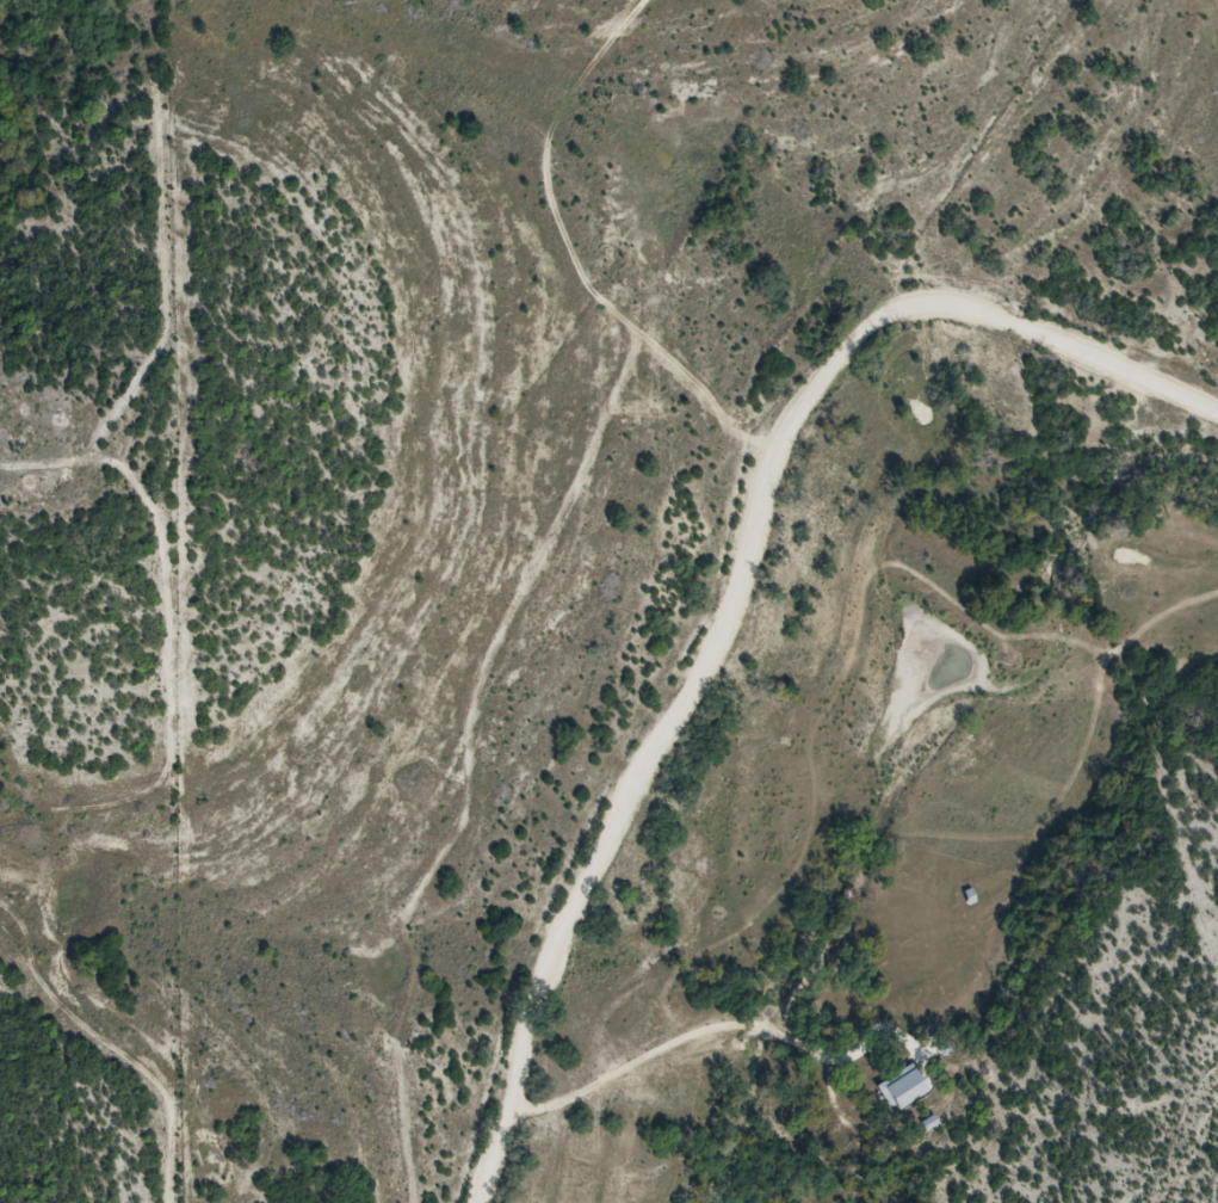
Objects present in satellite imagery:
road: (885, 130)
road: (1032, 327)
road: (662, 738)
road: (602, 1076)
building: (907, 1090)

